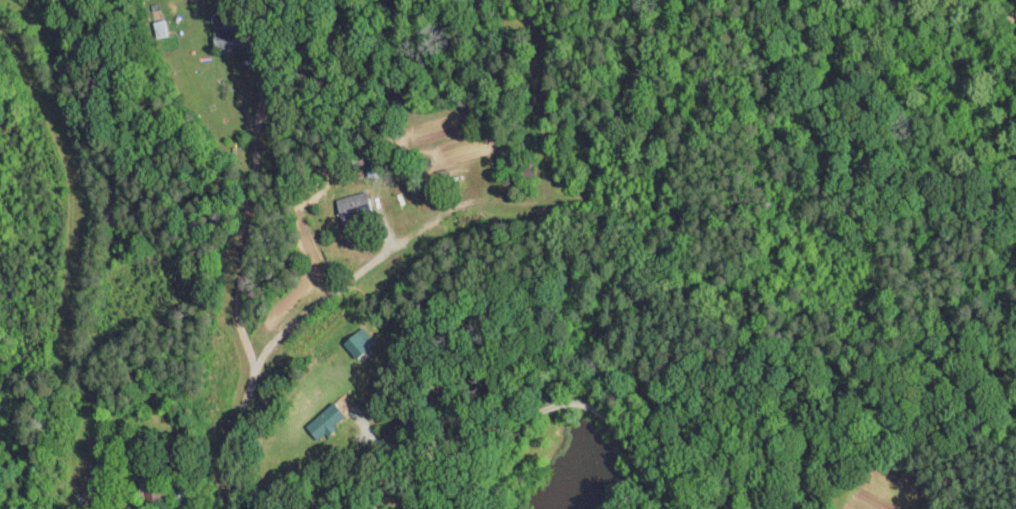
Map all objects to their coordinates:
building: (339, 199)
road: (248, 222)
road: (414, 237)
road: (124, 250)
building: (343, 336)
building: (311, 415)
road: (535, 416)

